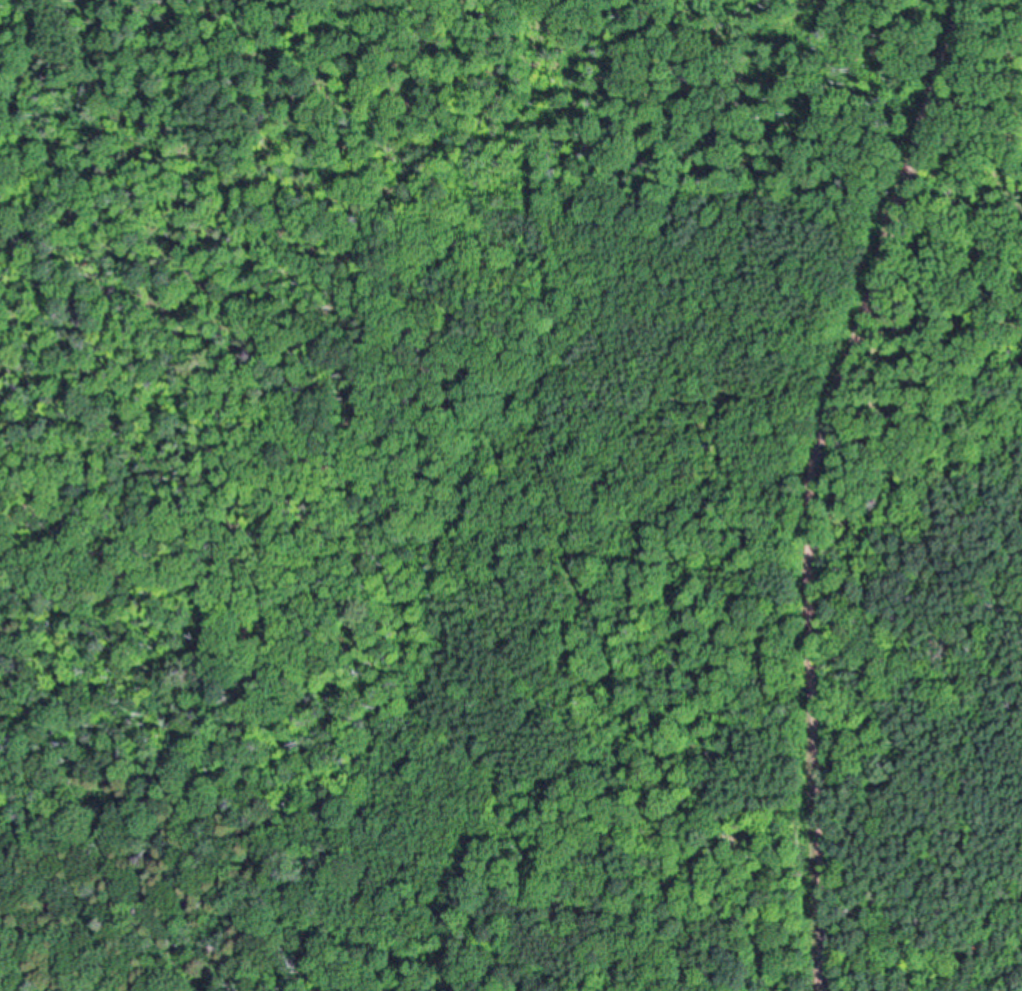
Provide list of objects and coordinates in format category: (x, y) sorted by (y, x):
building: (712, 445)
building: (696, 460)
road: (814, 484)

